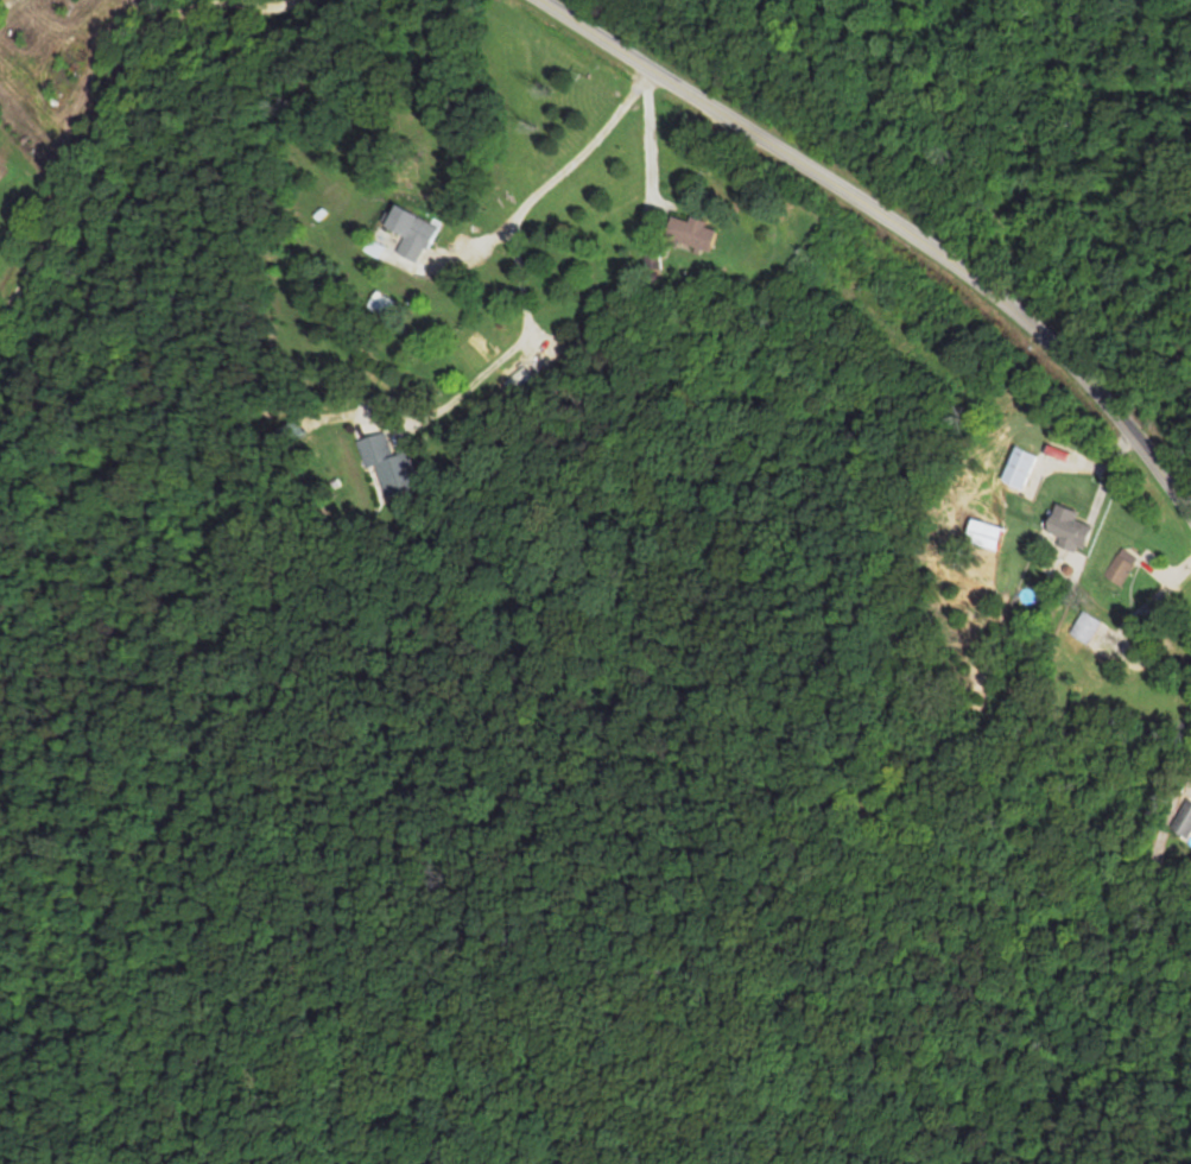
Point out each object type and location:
road: (110, 120)
road: (900, 223)
building: (419, 232)
building: (696, 232)
building: (391, 463)
building: (1025, 467)
building: (1073, 526)
building: (989, 532)
building: (1121, 567)
building: (1088, 625)

